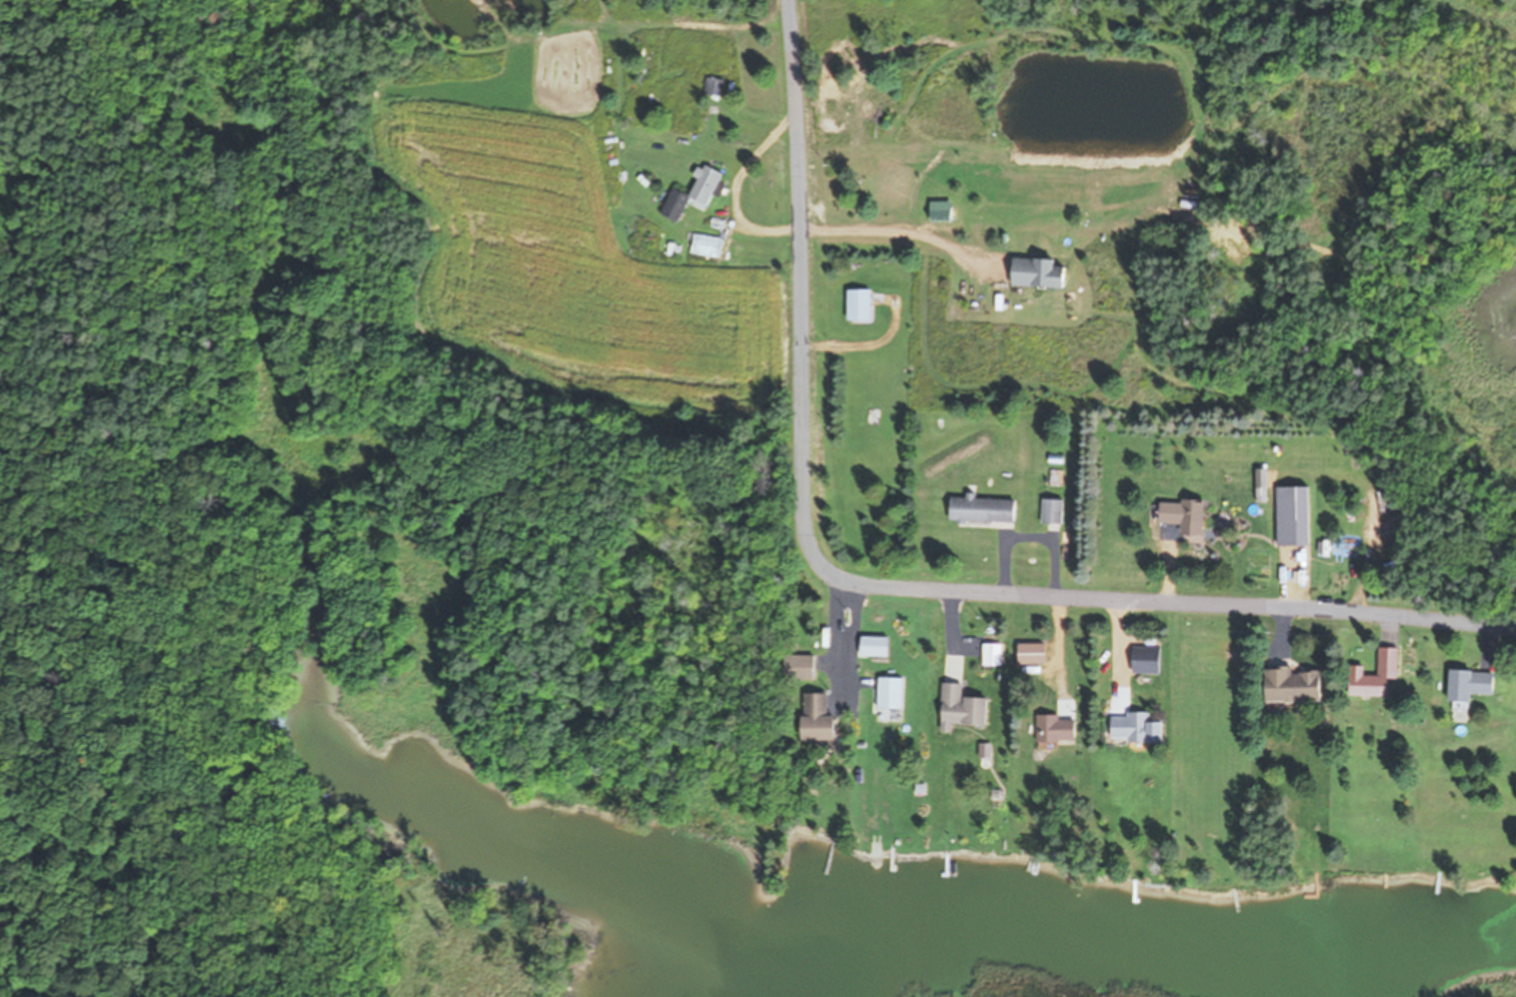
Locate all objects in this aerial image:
building: (716, 86)
road: (1006, 176)
building: (694, 193)
building: (943, 210)
building: (705, 245)
building: (1041, 272)
building: (860, 304)
building: (985, 510)
building: (1053, 511)
building: (1296, 516)
building: (1185, 518)
road: (880, 585)
building: (993, 654)
building: (1033, 654)
building: (1148, 659)
building: (805, 666)
building: (1378, 675)
building: (1474, 685)
building: (1297, 686)
building: (891, 692)
building: (963, 708)
building: (819, 719)
building: (1058, 728)
building: (1138, 728)

